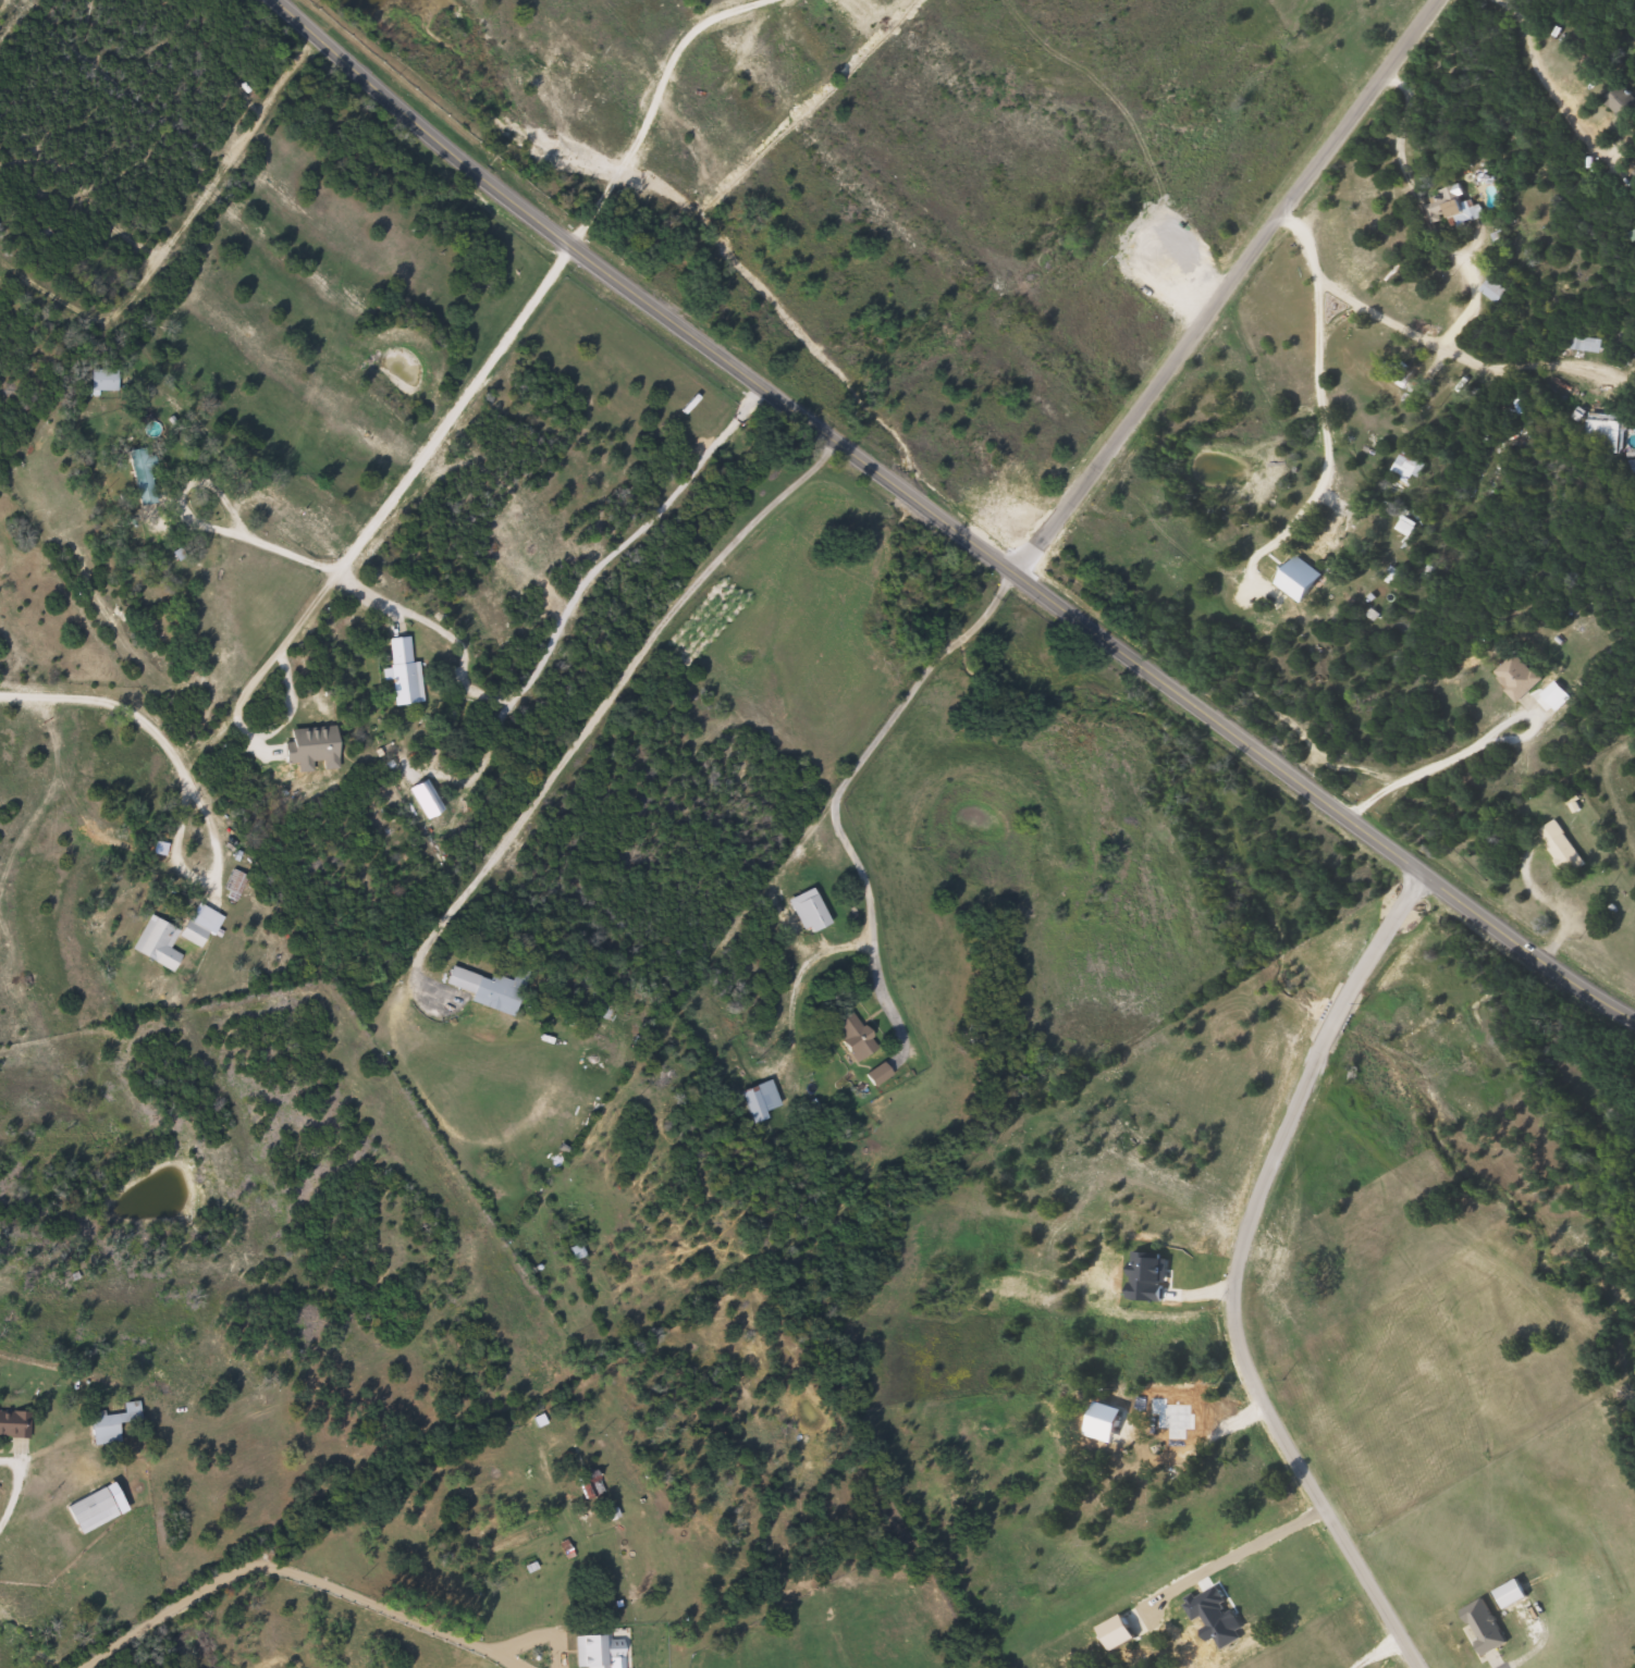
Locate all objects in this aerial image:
road: (1539, 75)
building: (1616, 99)
building: (1440, 203)
building: (1488, 291)
road: (1228, 292)
road: (1436, 341)
building: (1582, 343)
building: (1398, 376)
building: (99, 380)
building: (1605, 433)
building: (1403, 467)
road: (404, 481)
road: (942, 526)
building: (1328, 532)
building: (397, 671)
building: (1512, 677)
road: (617, 691)
road: (112, 700)
building: (308, 749)
road: (1427, 767)
road: (841, 780)
building: (1554, 843)
road: (205, 877)
building: (232, 884)
building: (804, 912)
building: (163, 941)
road: (1377, 948)
building: (485, 989)
building: (849, 1037)
building: (874, 1076)
building: (757, 1100)
road: (1241, 1355)
building: (109, 1424)
building: (7, 1431)
road: (16, 1487)
building: (85, 1507)
road: (333, 1508)
road: (374, 1604)
road: (533, 1638)
building: (590, 1652)
road: (503, 1658)

